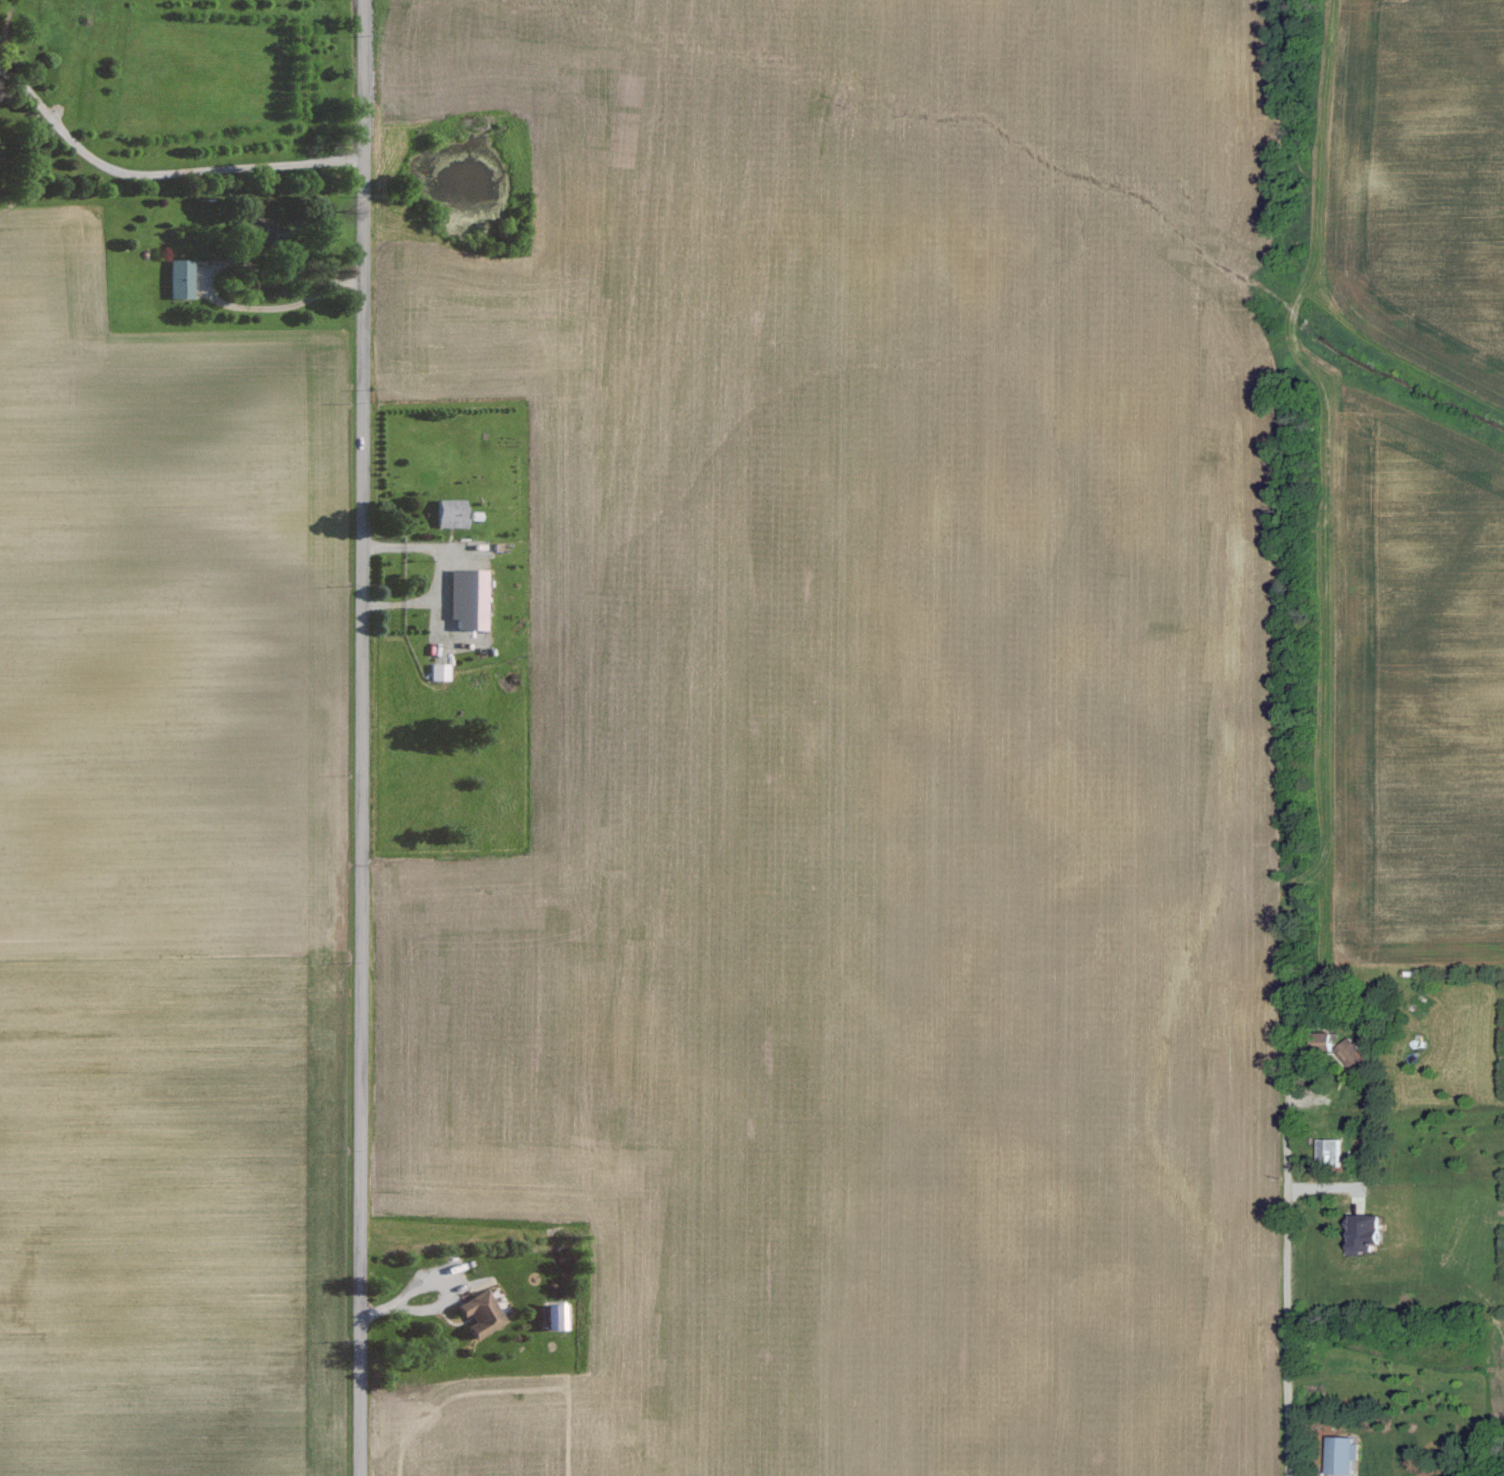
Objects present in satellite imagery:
road: (161, 178)
crop: (1405, 192)
building: (255, 230)
road: (211, 272)
building: (176, 279)
building: (449, 512)
road: (401, 545)
building: (483, 574)
building: (457, 589)
building: (474, 629)
building: (436, 672)
crop: (1391, 682)
crop: (866, 735)
road: (361, 737)
building: (1302, 855)
road: (1285, 928)
building: (1324, 1040)
building: (1355, 1056)
building: (1329, 1151)
building: (1362, 1232)
road: (470, 1244)
road: (1290, 1276)
road: (417, 1285)
crop: (1503, 1285)
building: (478, 1312)
building: (552, 1315)
crop: (1420, 1342)
building: (1342, 1453)

